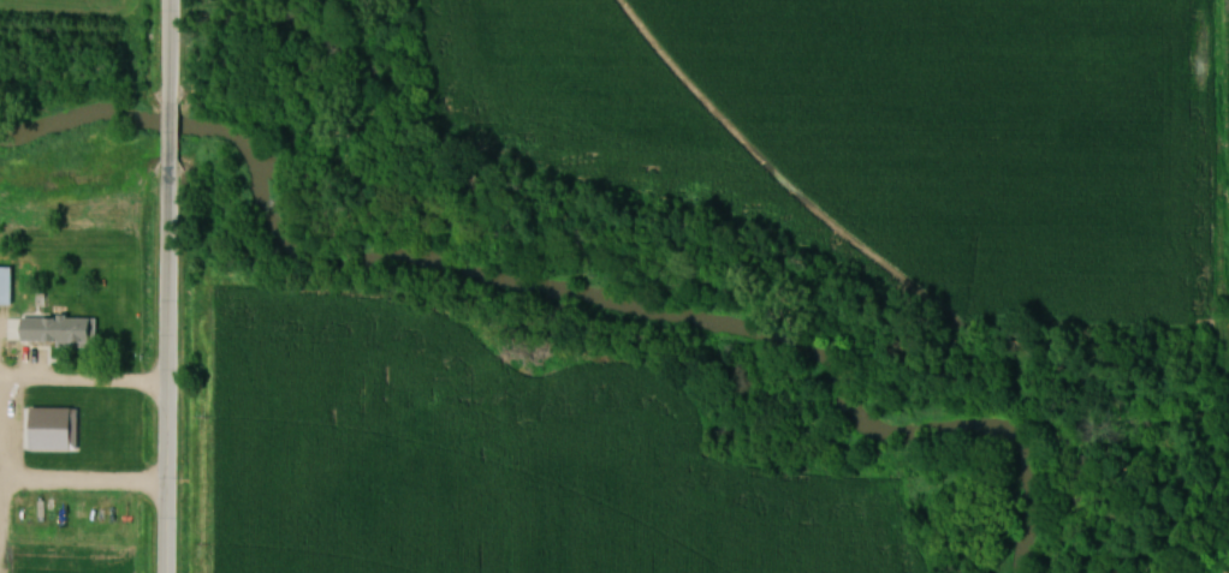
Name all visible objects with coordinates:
crop: (57, 6)
road: (171, 52)
crop: (605, 112)
road: (172, 132)
crop: (988, 136)
building: (7, 285)
building: (64, 333)
road: (168, 366)
road: (78, 384)

